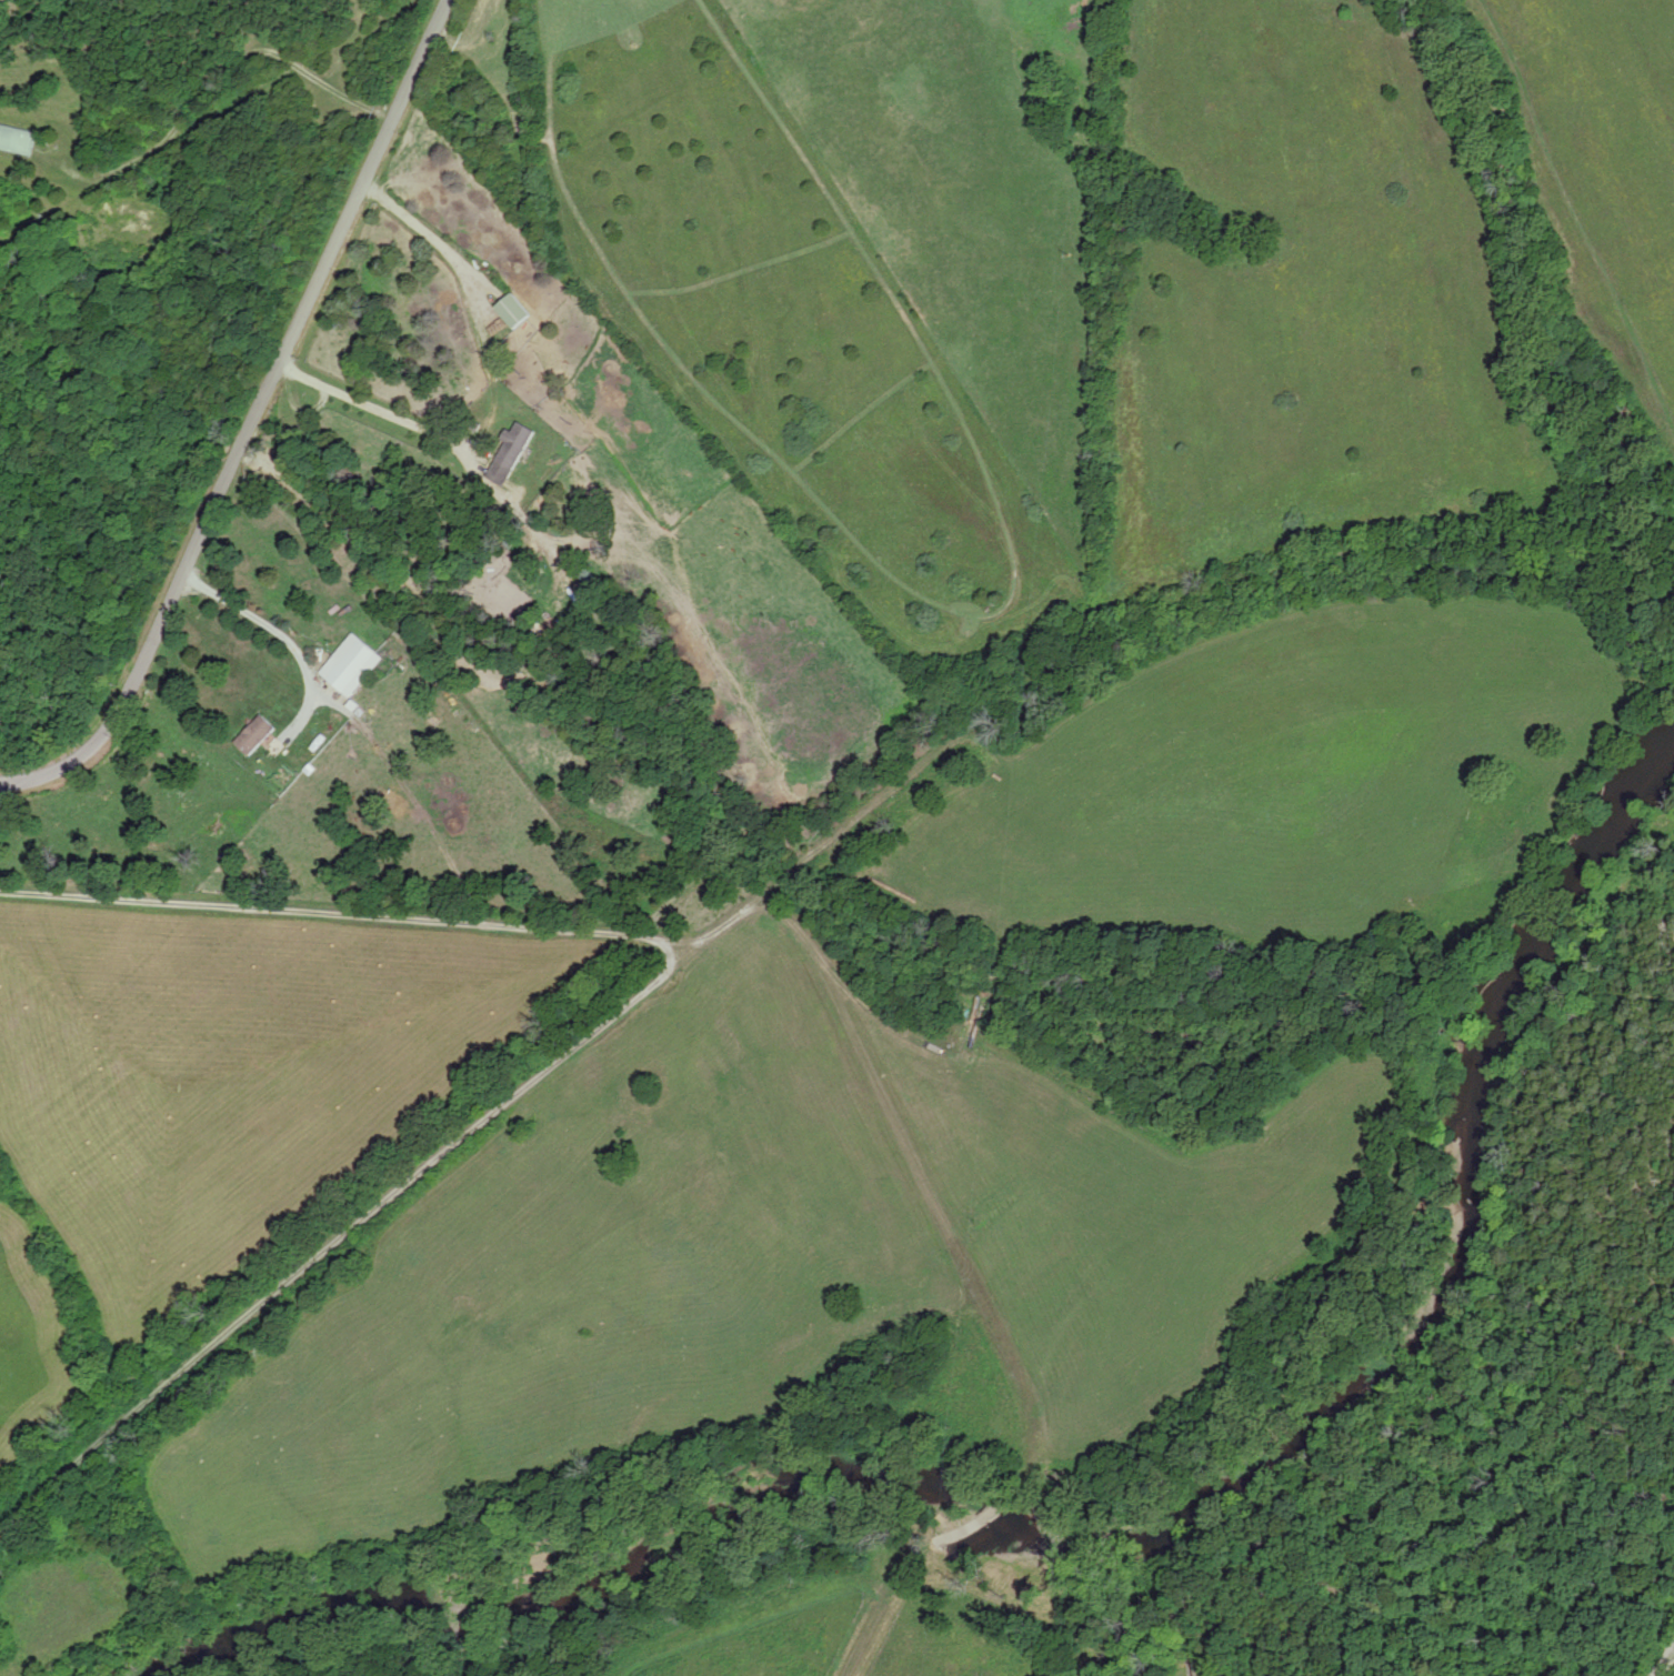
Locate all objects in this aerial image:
building: (17, 140)
building: (514, 312)
road: (244, 373)
building: (511, 454)
building: (354, 669)
building: (254, 736)
river: (1107, 1549)

